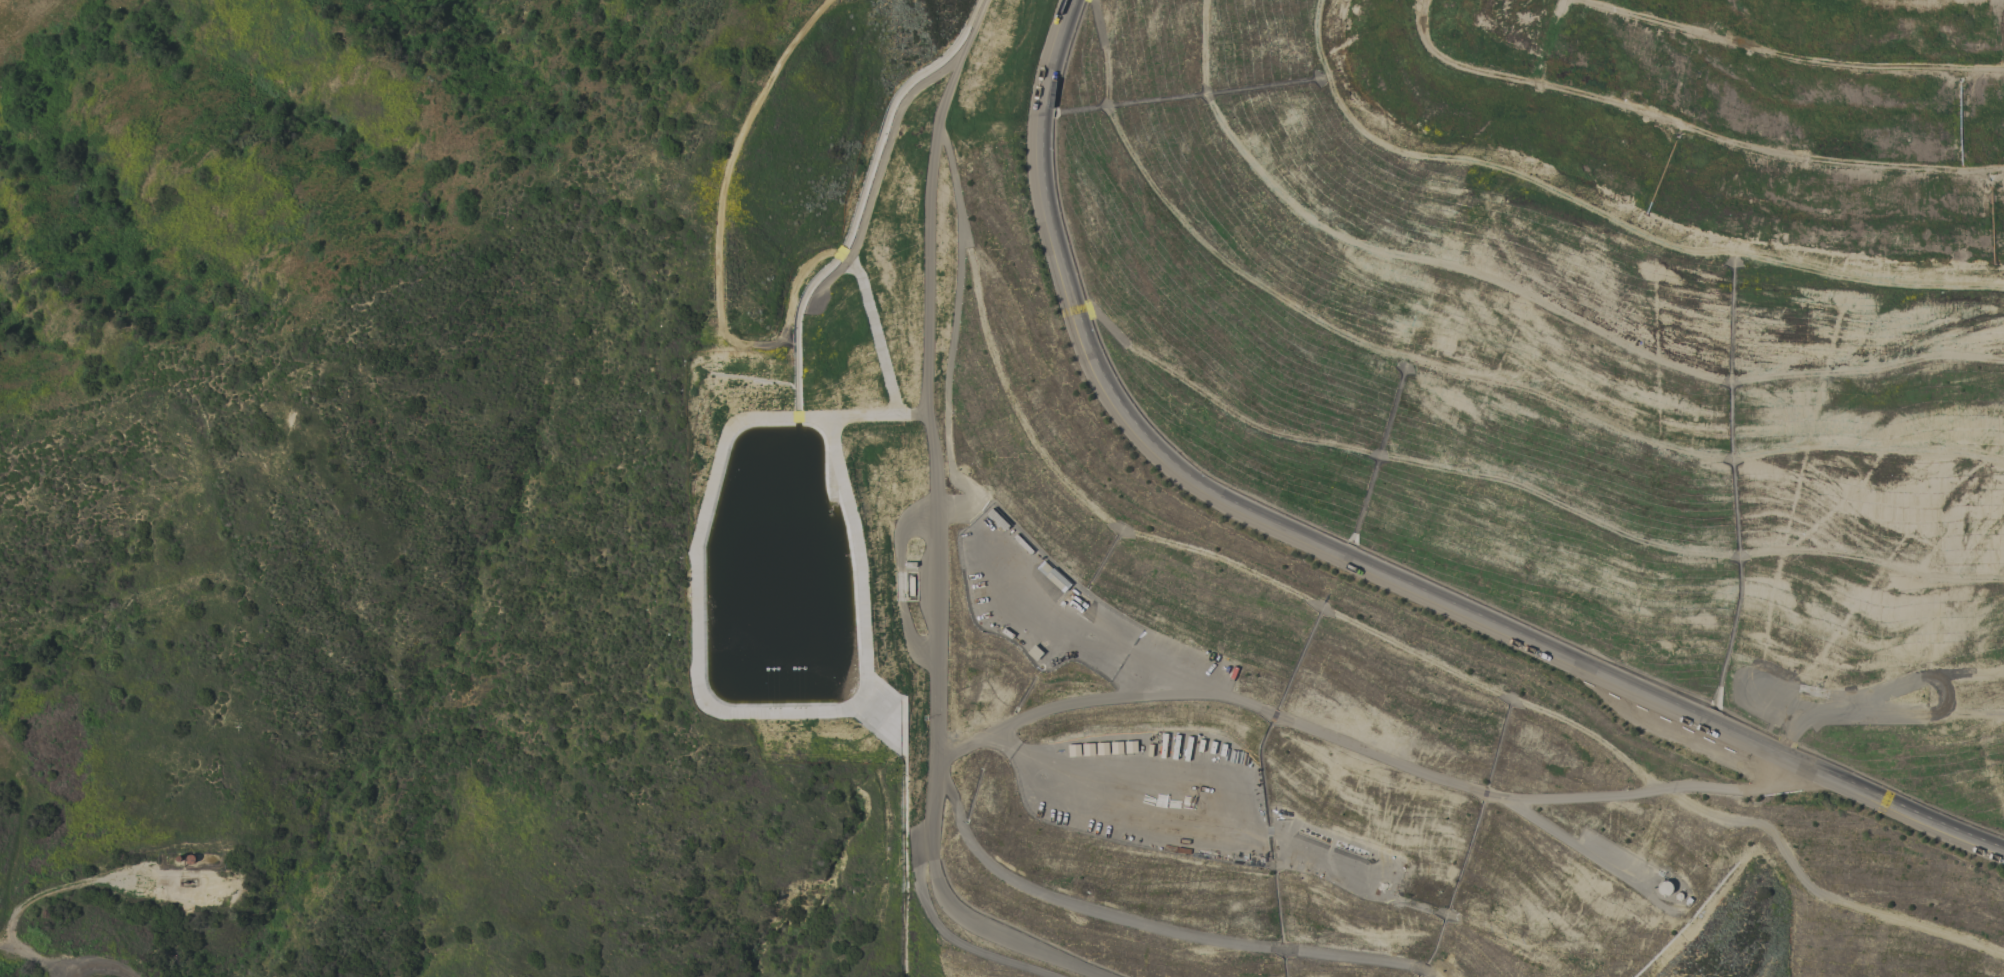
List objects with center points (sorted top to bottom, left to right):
landfill: (1389, 478)
landfill: (1389, 478)
road: (927, 534)
road: (1350, 561)
road: (1051, 591)
building: (1116, 747)
building: (1101, 748)
building: (1087, 749)
building: (1073, 750)
road: (1369, 755)
petroleum well: (186, 881)
road: (58, 887)
building: (1665, 888)
storage tank: (1665, 888)
building: (1678, 896)
storage tank: (1678, 896)
road: (1153, 927)
road: (102, 966)

